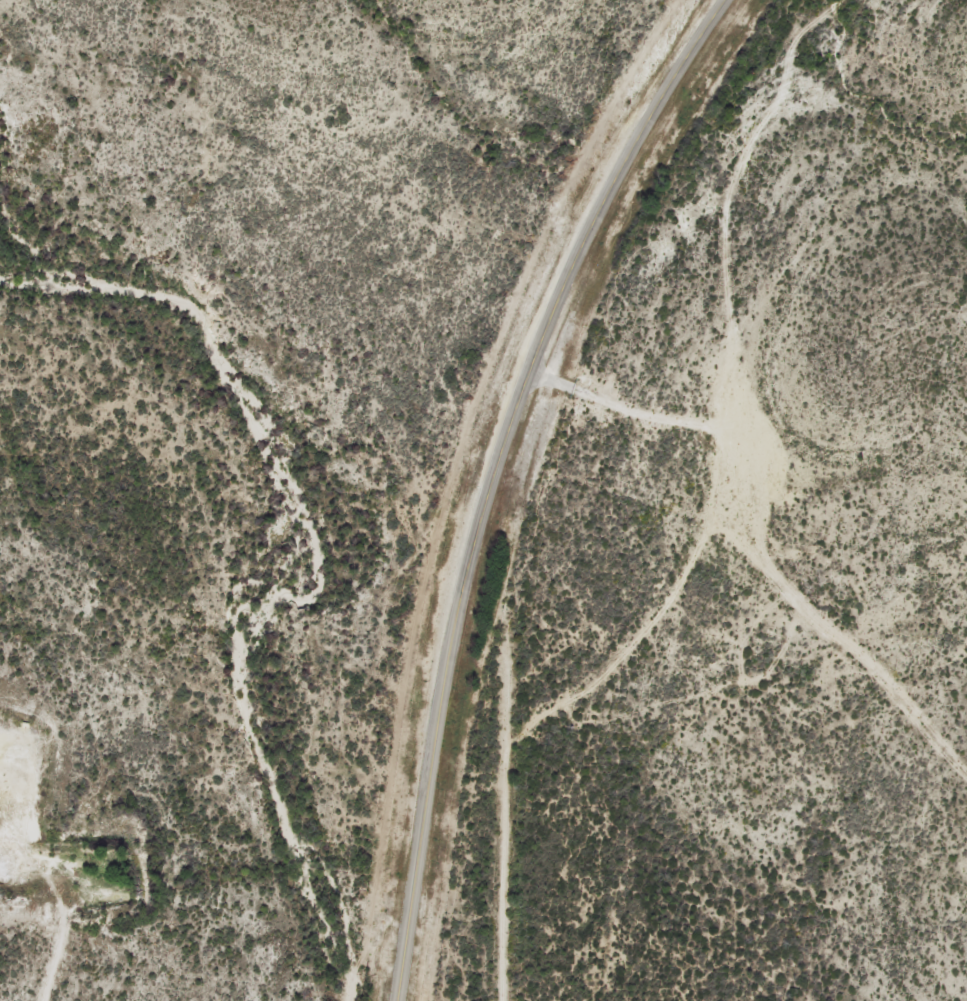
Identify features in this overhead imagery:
road: (496, 477)

